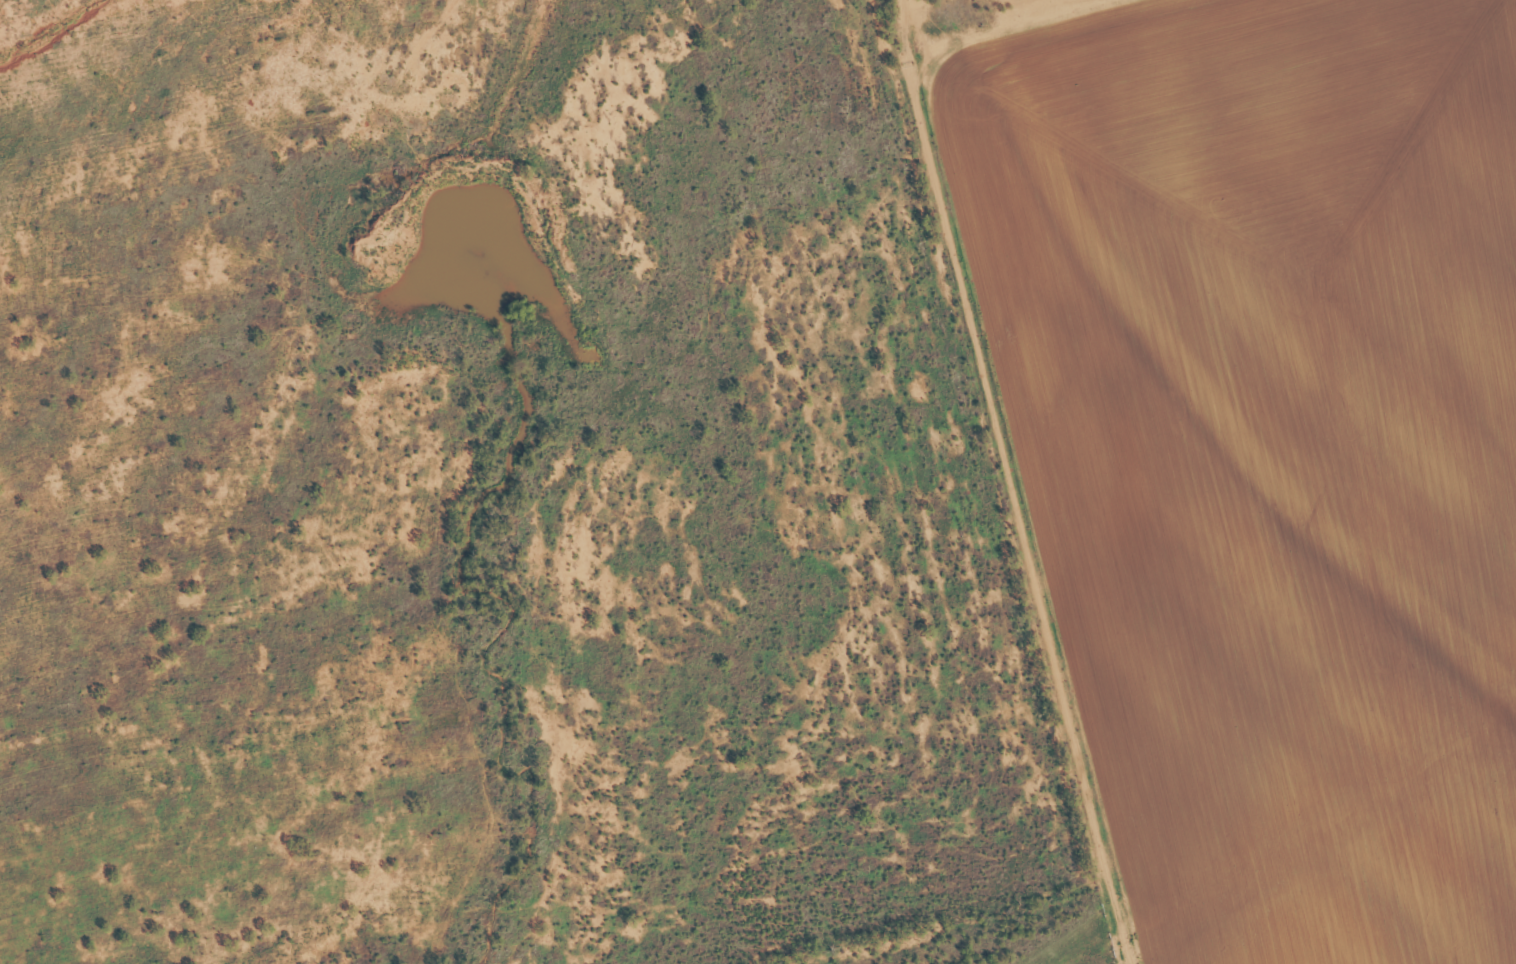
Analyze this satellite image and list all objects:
road: (1000, 398)

